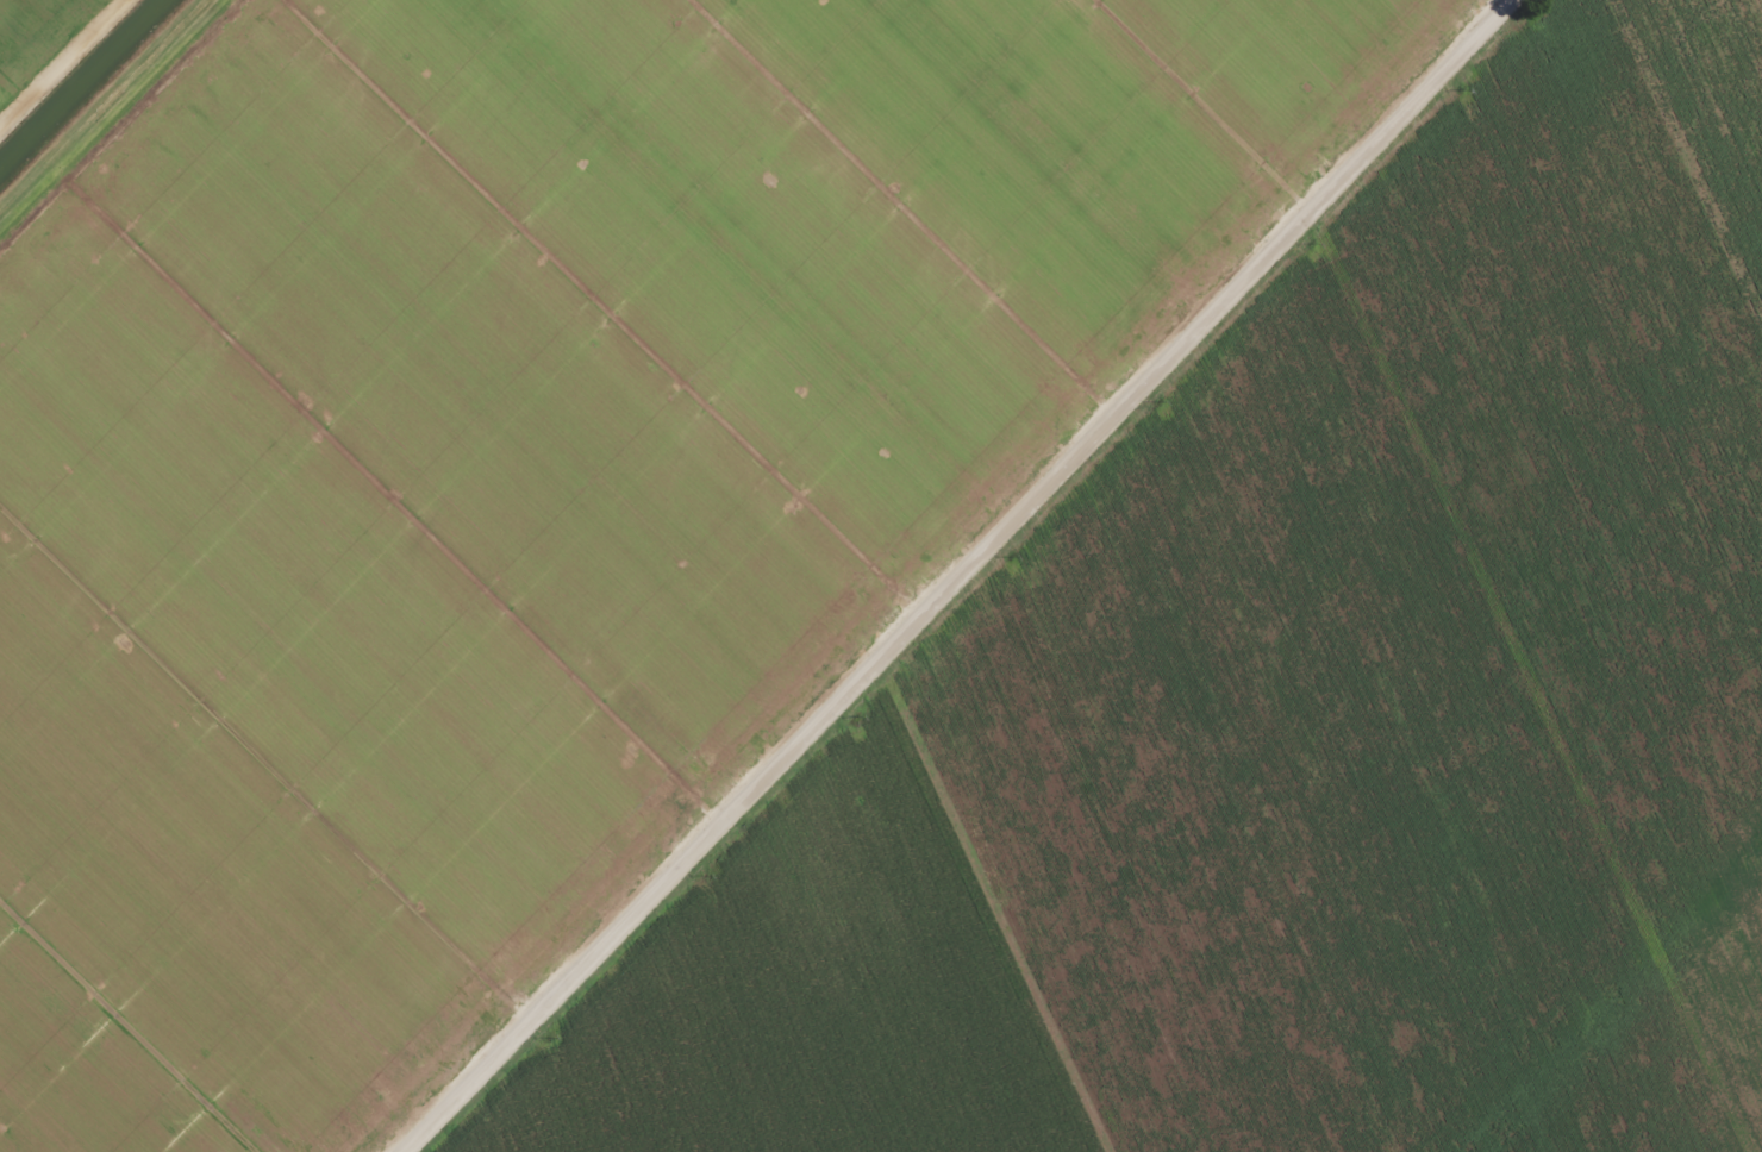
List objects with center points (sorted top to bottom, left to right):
road: (63, 65)
road: (1061, 576)

